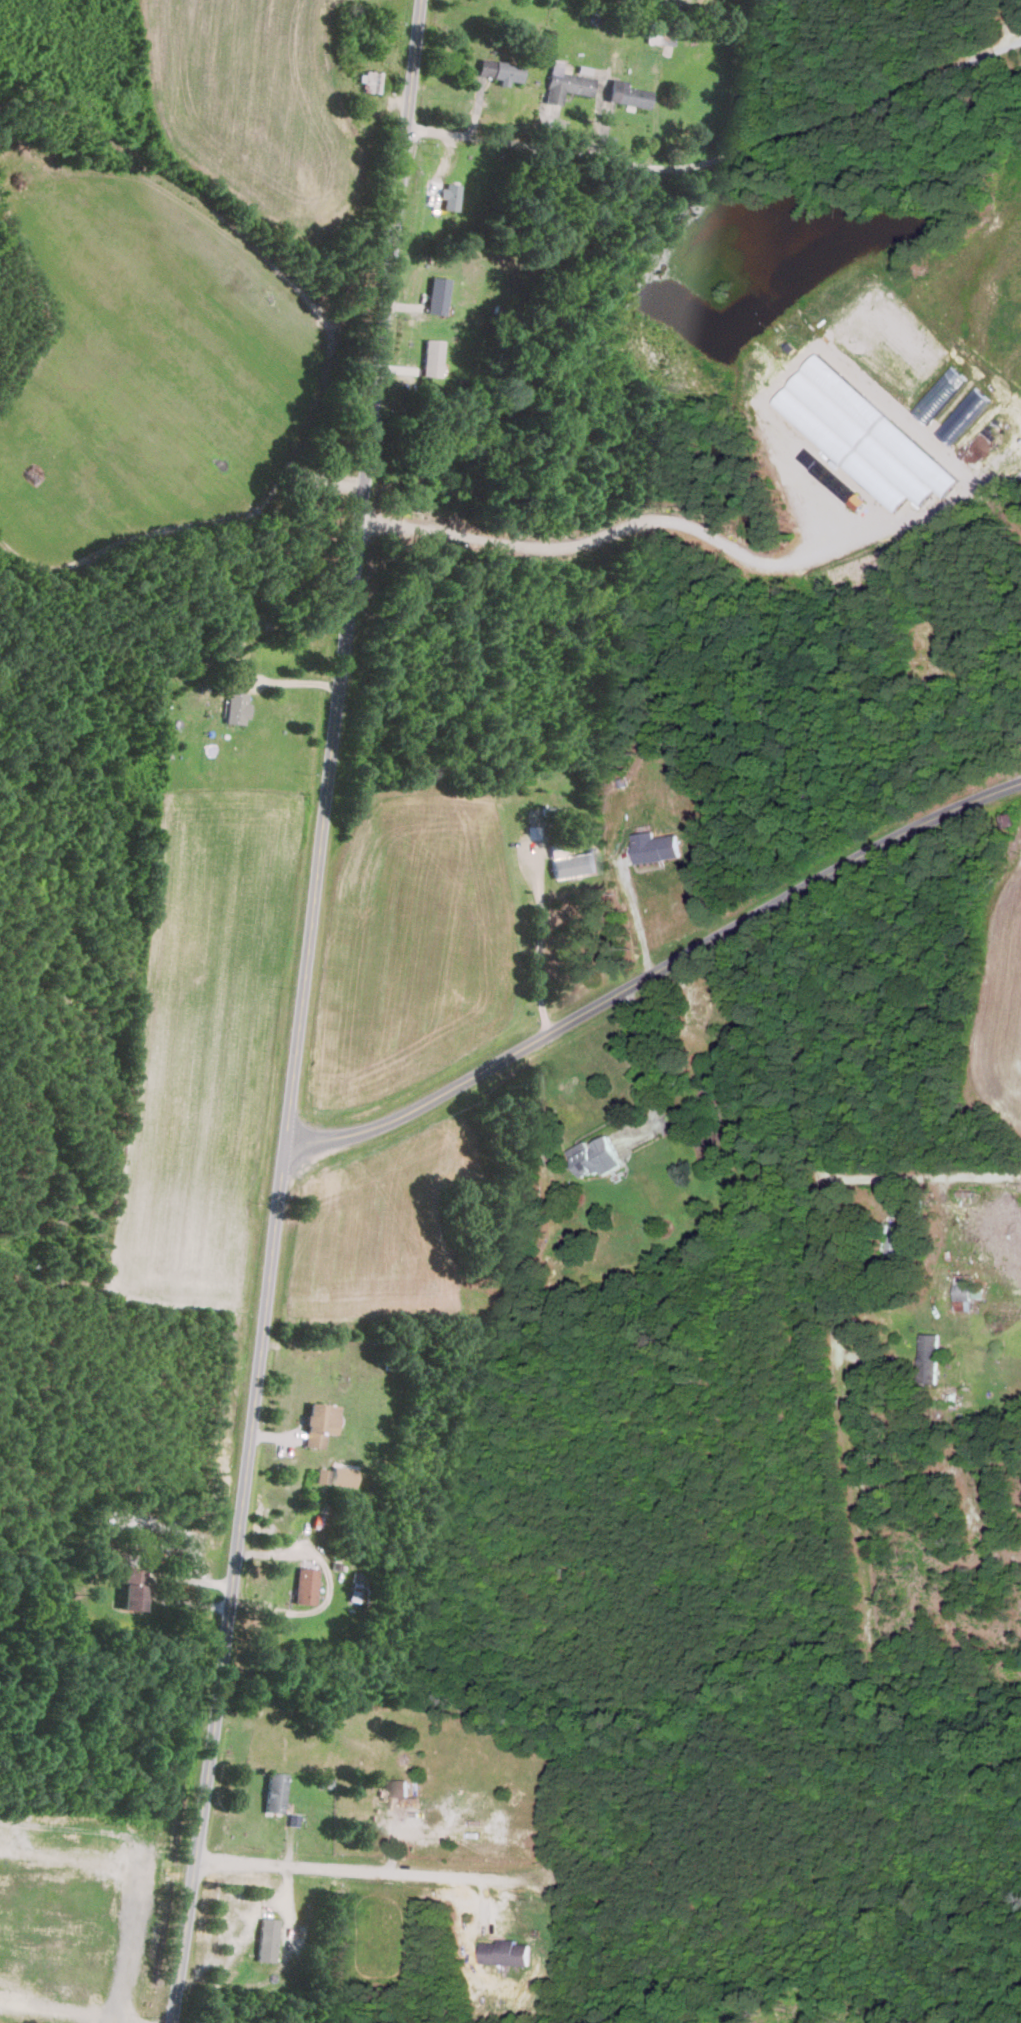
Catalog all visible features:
road: (1003, 25)
building: (659, 34)
building: (500, 70)
building: (564, 84)
building: (628, 94)
road: (857, 108)
road: (549, 151)
building: (450, 196)
building: (437, 295)
building: (432, 358)
building: (964, 416)
building: (864, 437)
building: (237, 707)
building: (656, 847)
building: (573, 863)
road: (634, 914)
road: (536, 940)
road: (646, 972)
road: (302, 1012)
road: (641, 1069)
building: (597, 1156)
road: (921, 1175)
road: (826, 1221)
building: (968, 1291)
building: (930, 1357)
building: (321, 1423)
building: (320, 1475)
building: (344, 1476)
building: (111, 1549)
building: (306, 1585)
road: (329, 1585)
building: (134, 1589)
building: (275, 1792)
road: (456, 1878)
building: (267, 1940)
building: (507, 1953)

